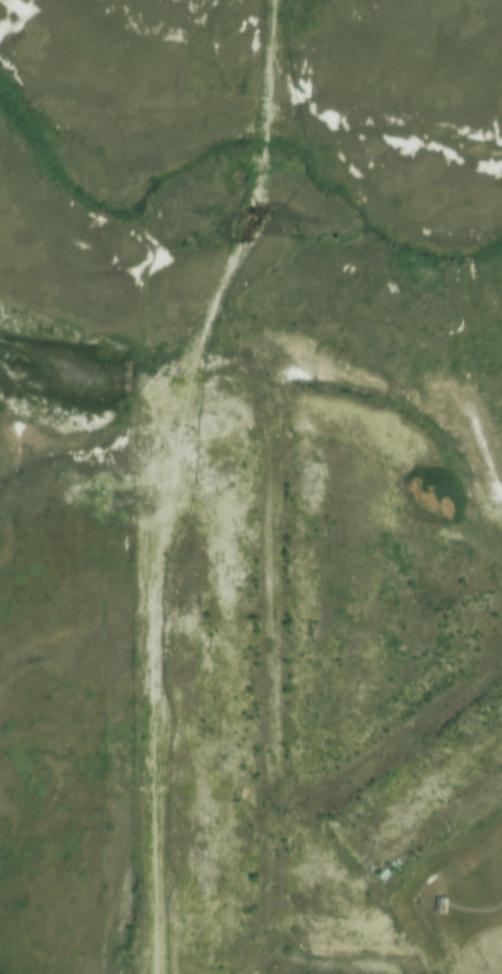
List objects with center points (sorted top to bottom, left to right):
building: (438, 899)
road: (473, 905)

